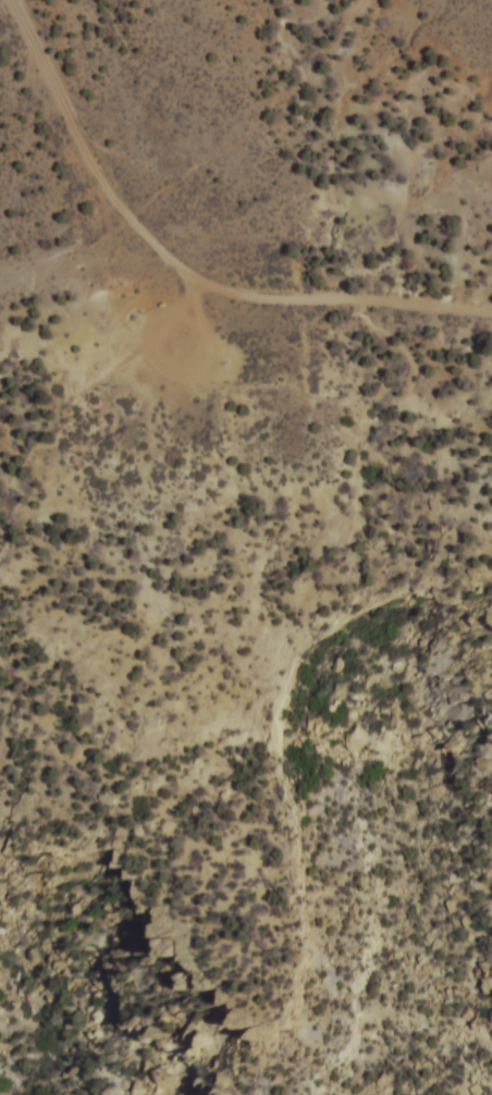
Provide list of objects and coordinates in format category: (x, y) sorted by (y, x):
road: (187, 257)

